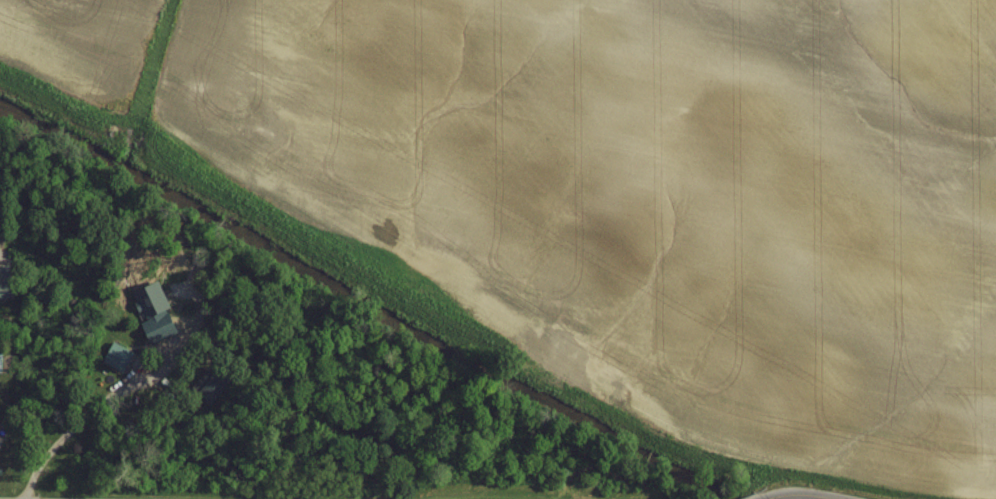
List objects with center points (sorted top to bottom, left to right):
crop: (633, 186)
road: (794, 496)

